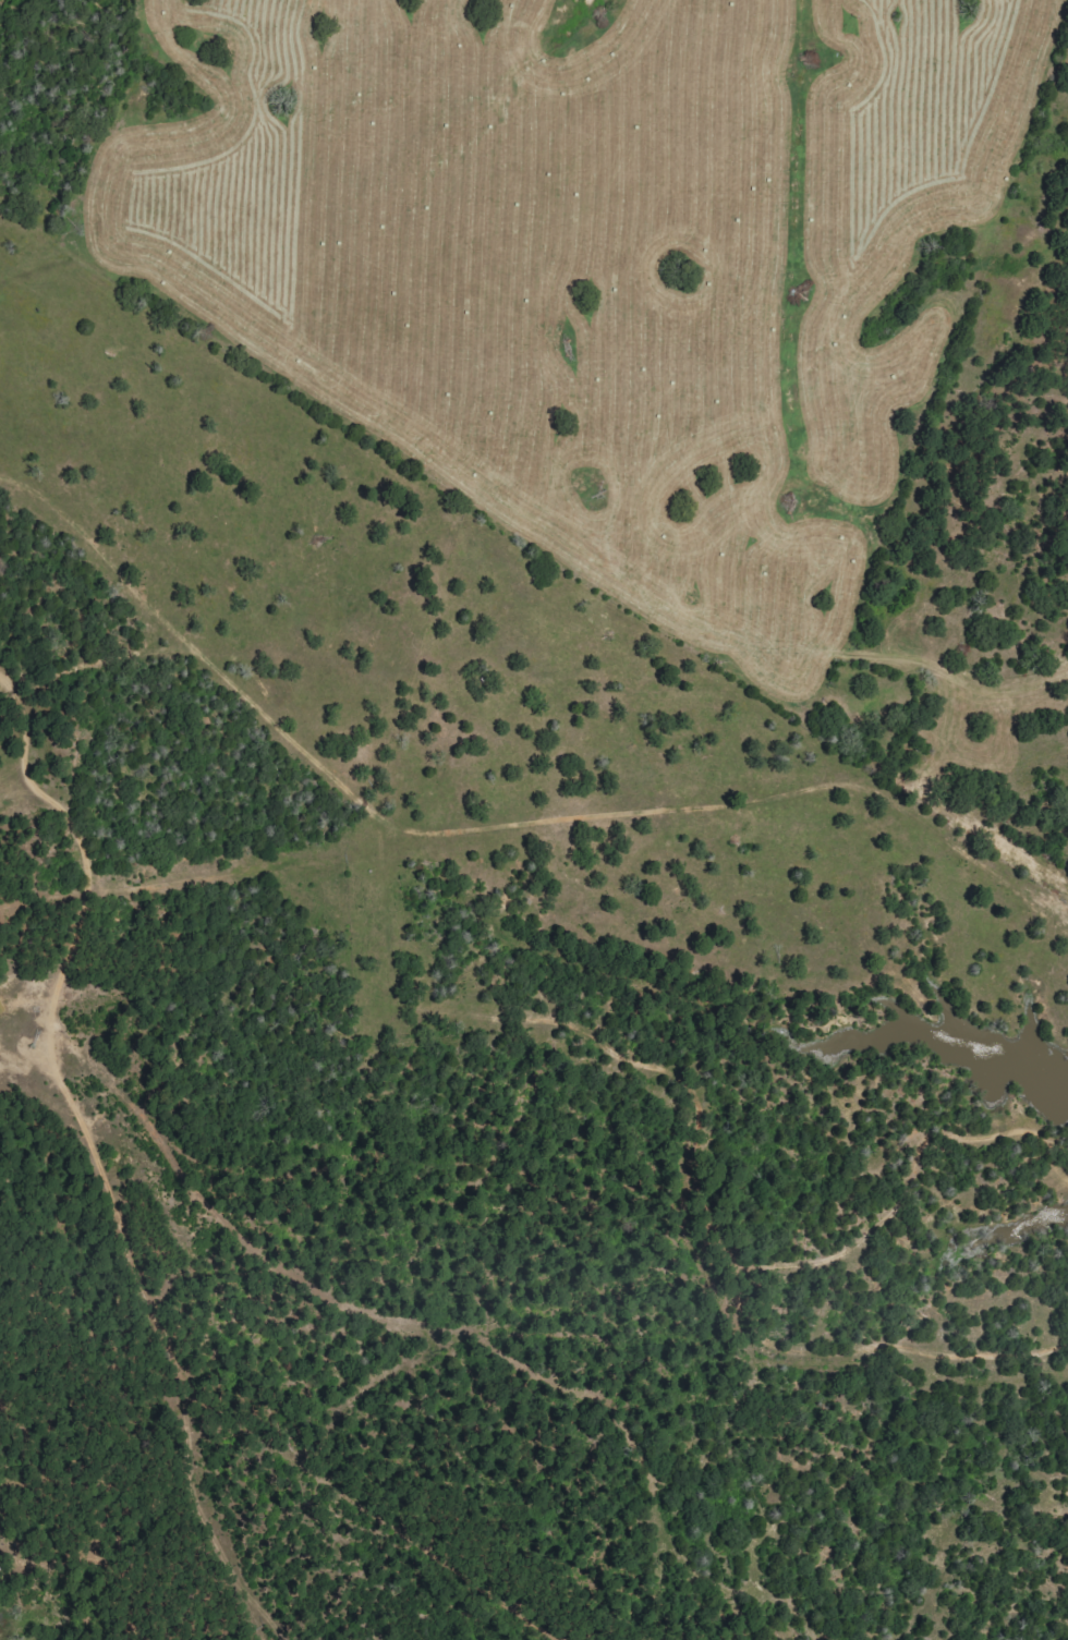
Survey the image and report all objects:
road: (534, 667)
road: (75, 933)
road: (468, 1590)

